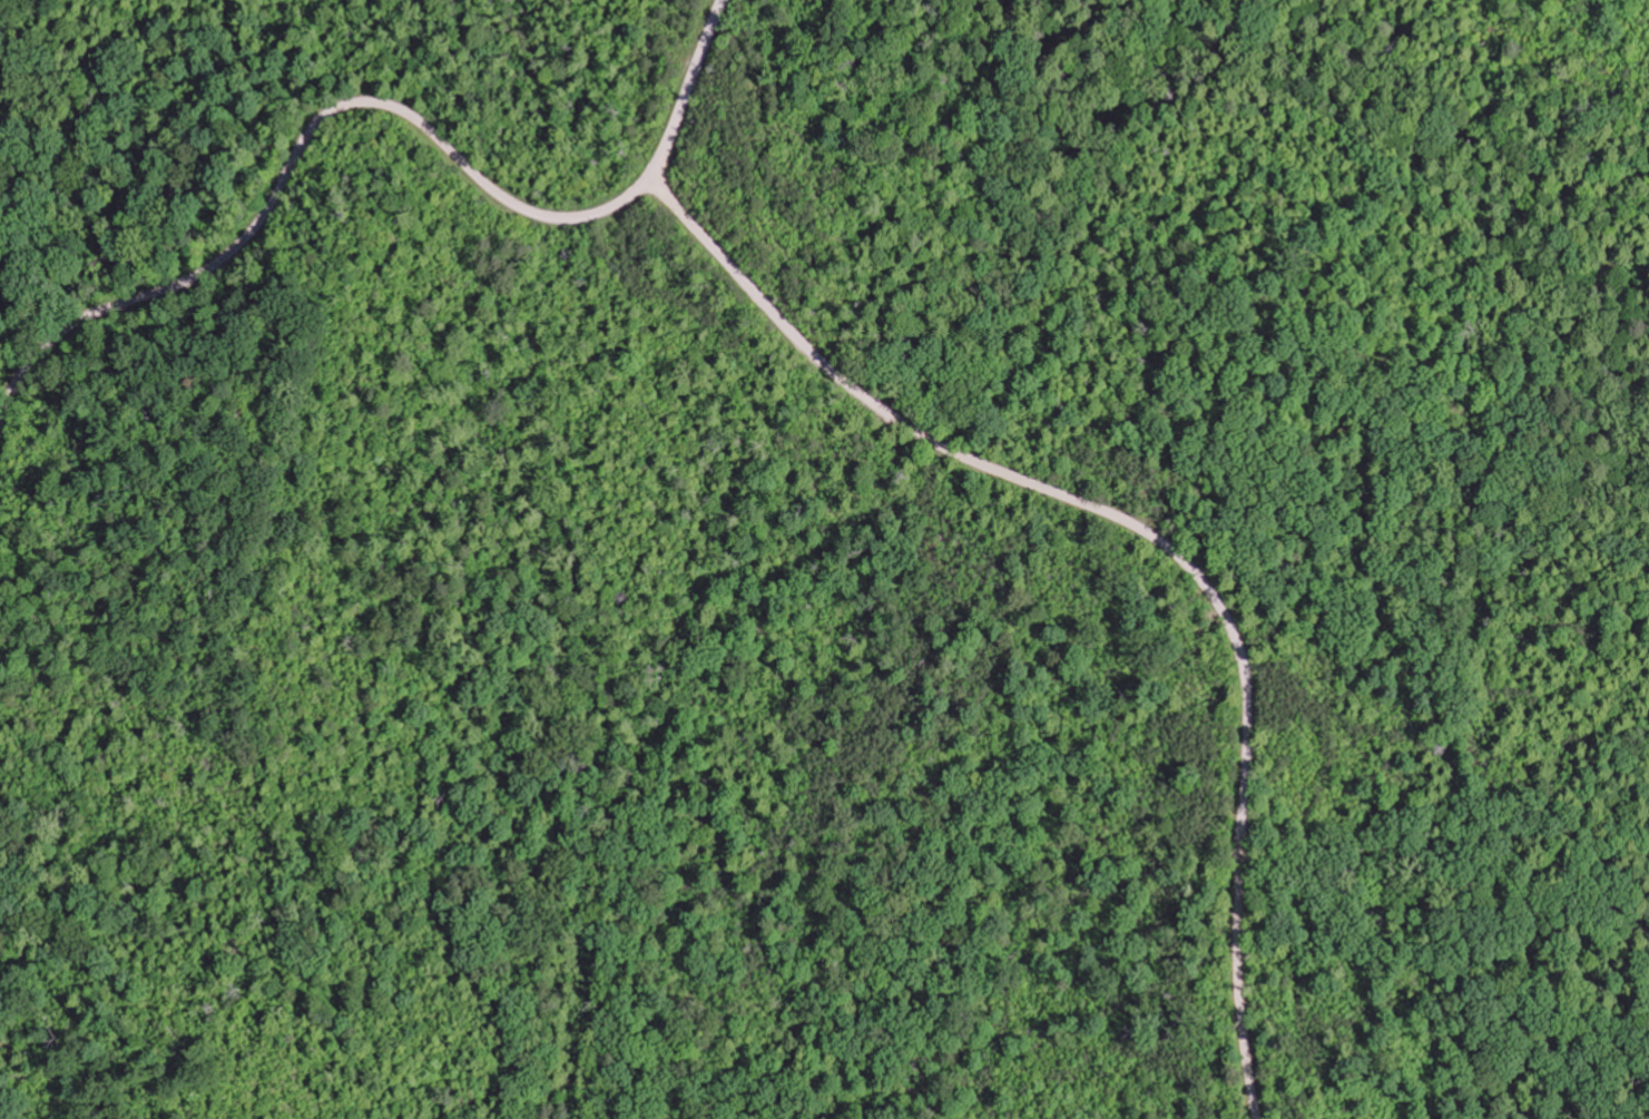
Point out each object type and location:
road: (688, 90)
road: (297, 165)
road: (1148, 533)

